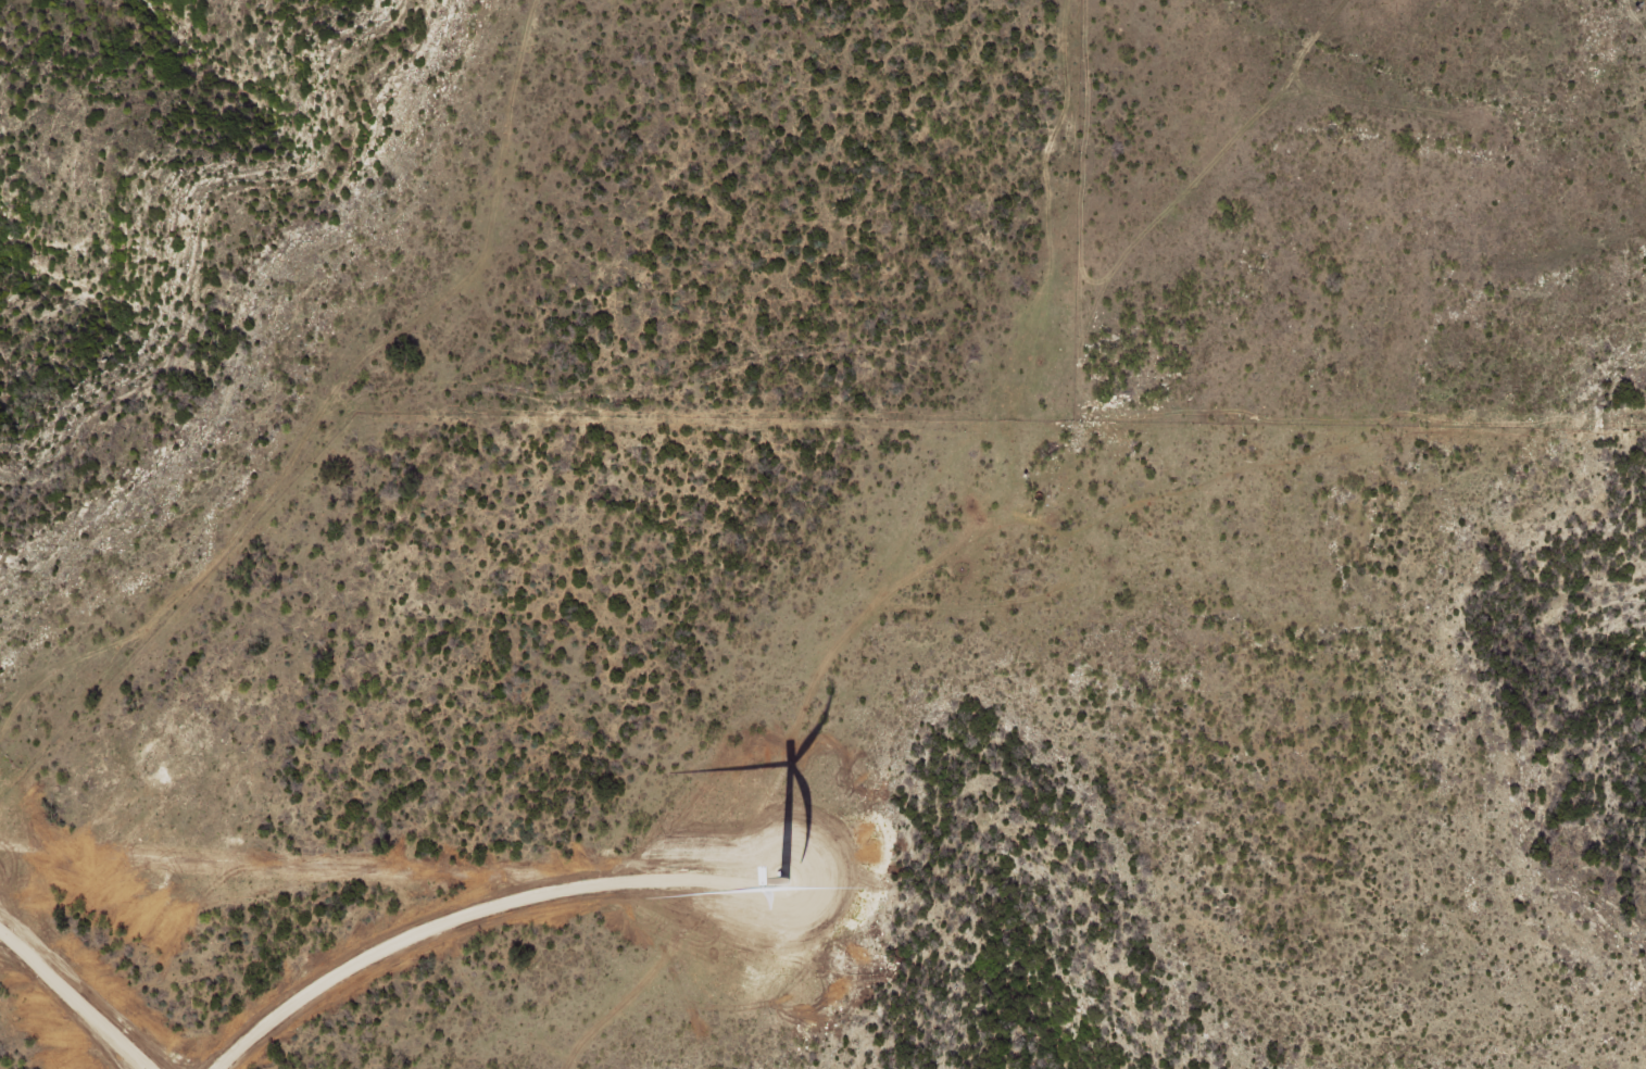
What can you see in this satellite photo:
road: (811, 781)
wind turbine: (791, 877)

